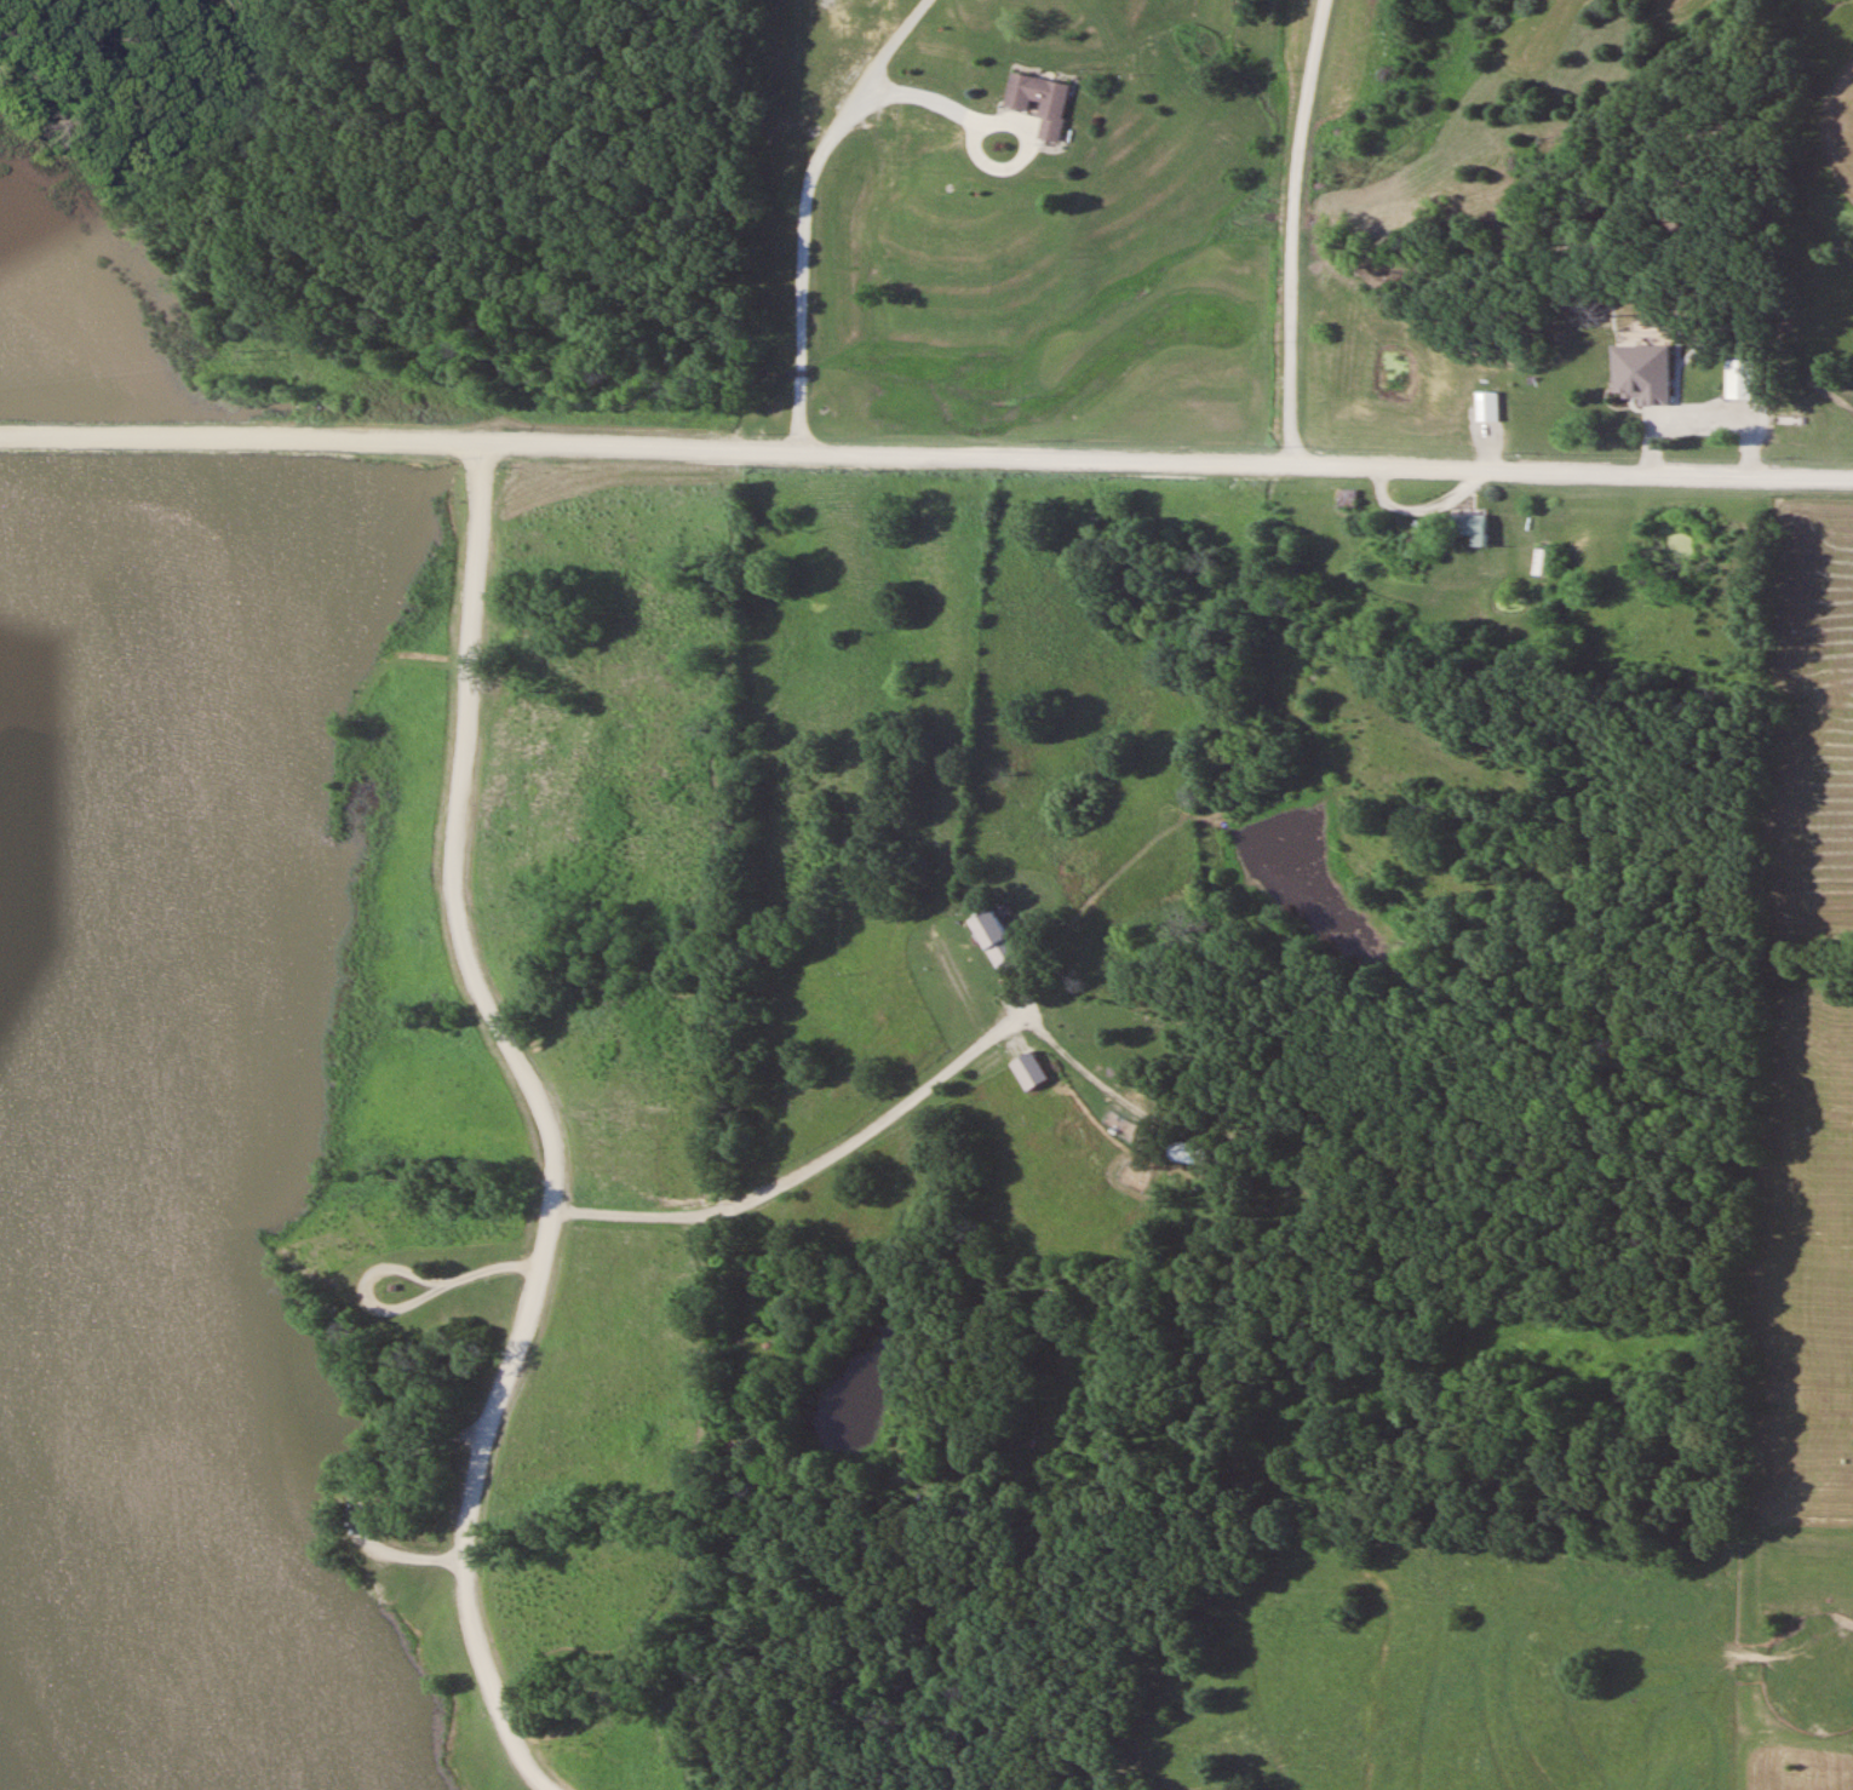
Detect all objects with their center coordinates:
road: (953, 65)
building: (1042, 103)
road: (1012, 167)
road: (804, 219)
building: (1742, 379)
building: (1633, 384)
building: (1491, 406)
road: (926, 454)
building: (1349, 499)
building: (1469, 527)
building: (1544, 562)
building: (997, 942)
road: (549, 1121)
building: (1189, 1153)
park: (854, 1160)
road: (813, 1171)
road: (487, 1270)
road: (398, 1272)

